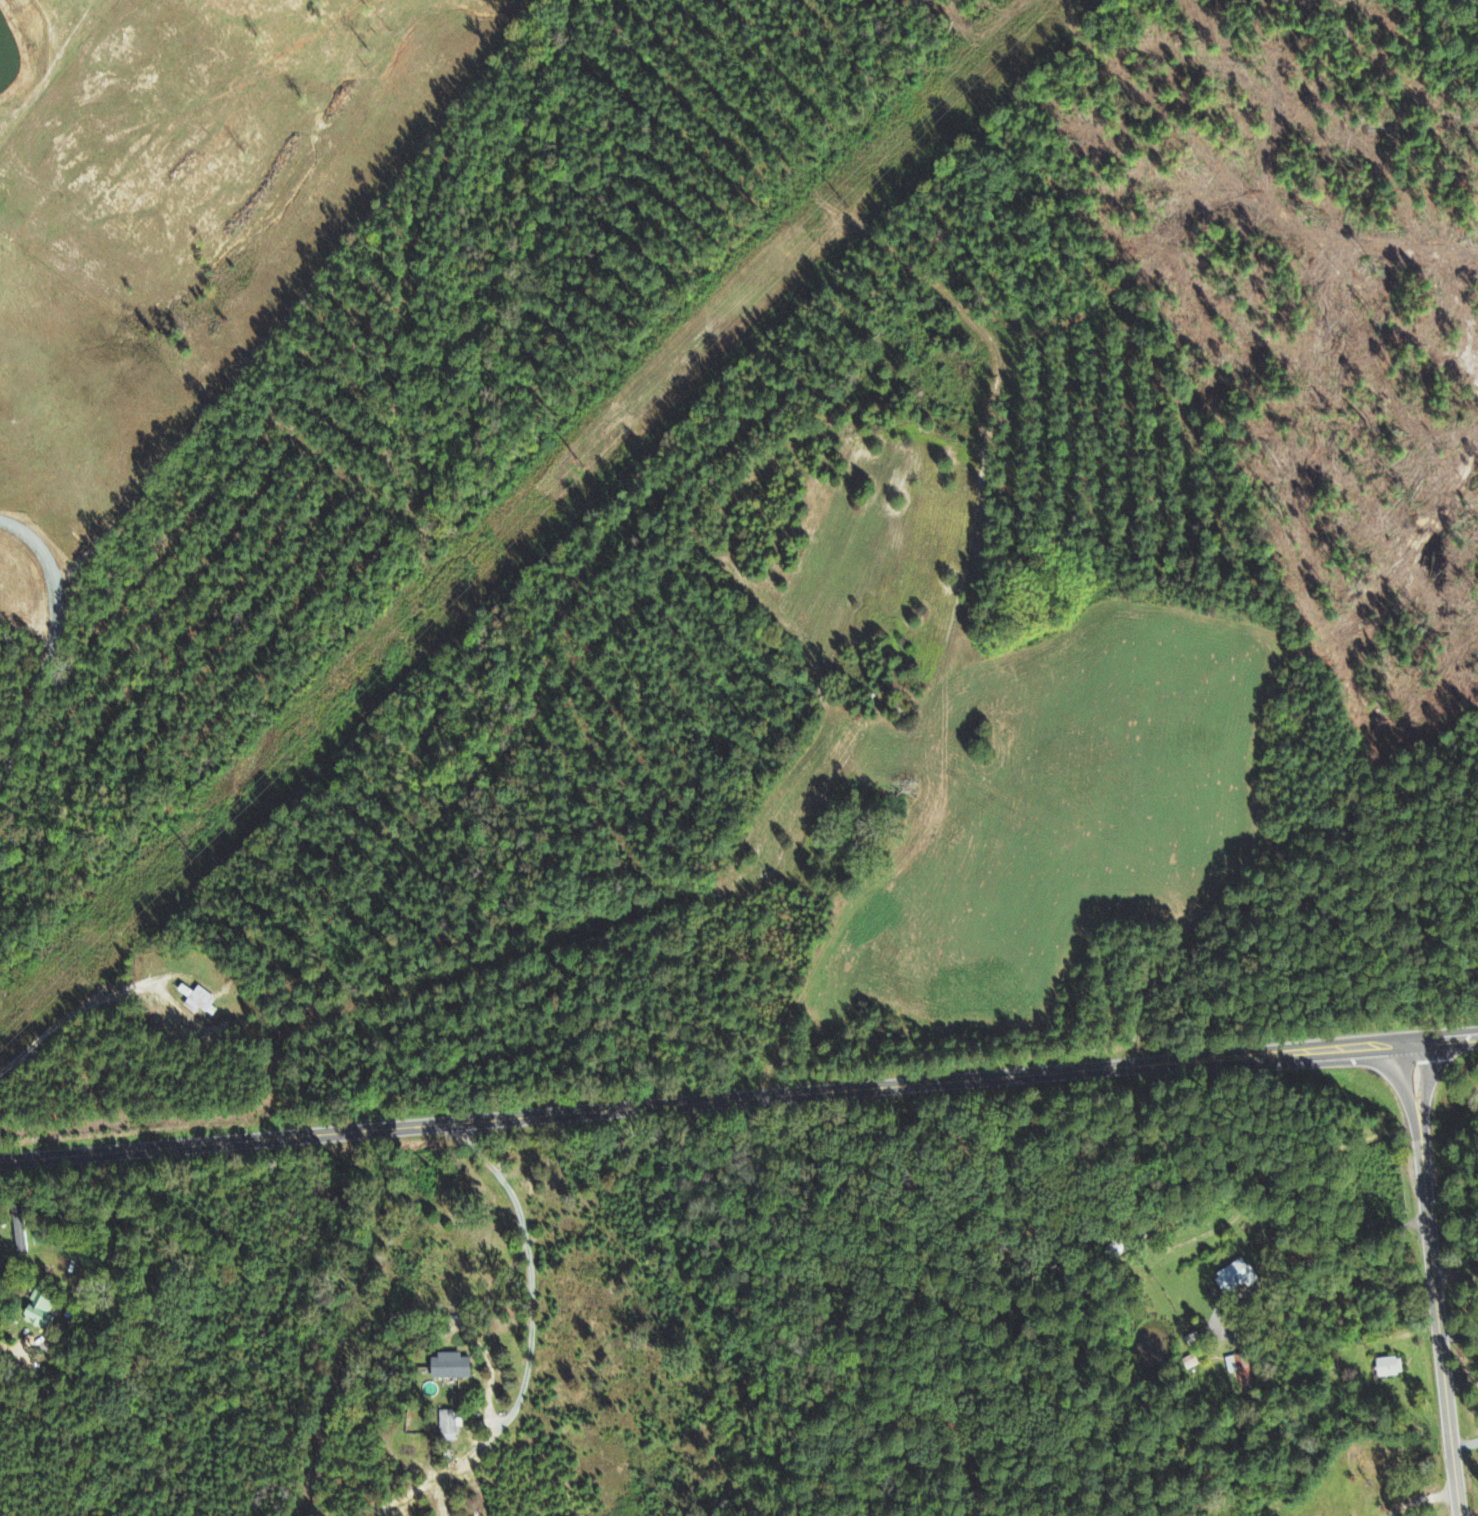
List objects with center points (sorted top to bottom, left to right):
power tower: (846, 205)
power tower: (583, 464)
road: (49, 652)
power tower: (192, 854)
building: (196, 998)
road: (1446, 1045)
road: (707, 1111)
building: (19, 1237)
building: (1233, 1275)
road: (1437, 1282)
building: (37, 1310)
road: (538, 1341)
building: (448, 1364)
building: (1387, 1365)
building: (1239, 1369)
building: (446, 1424)

